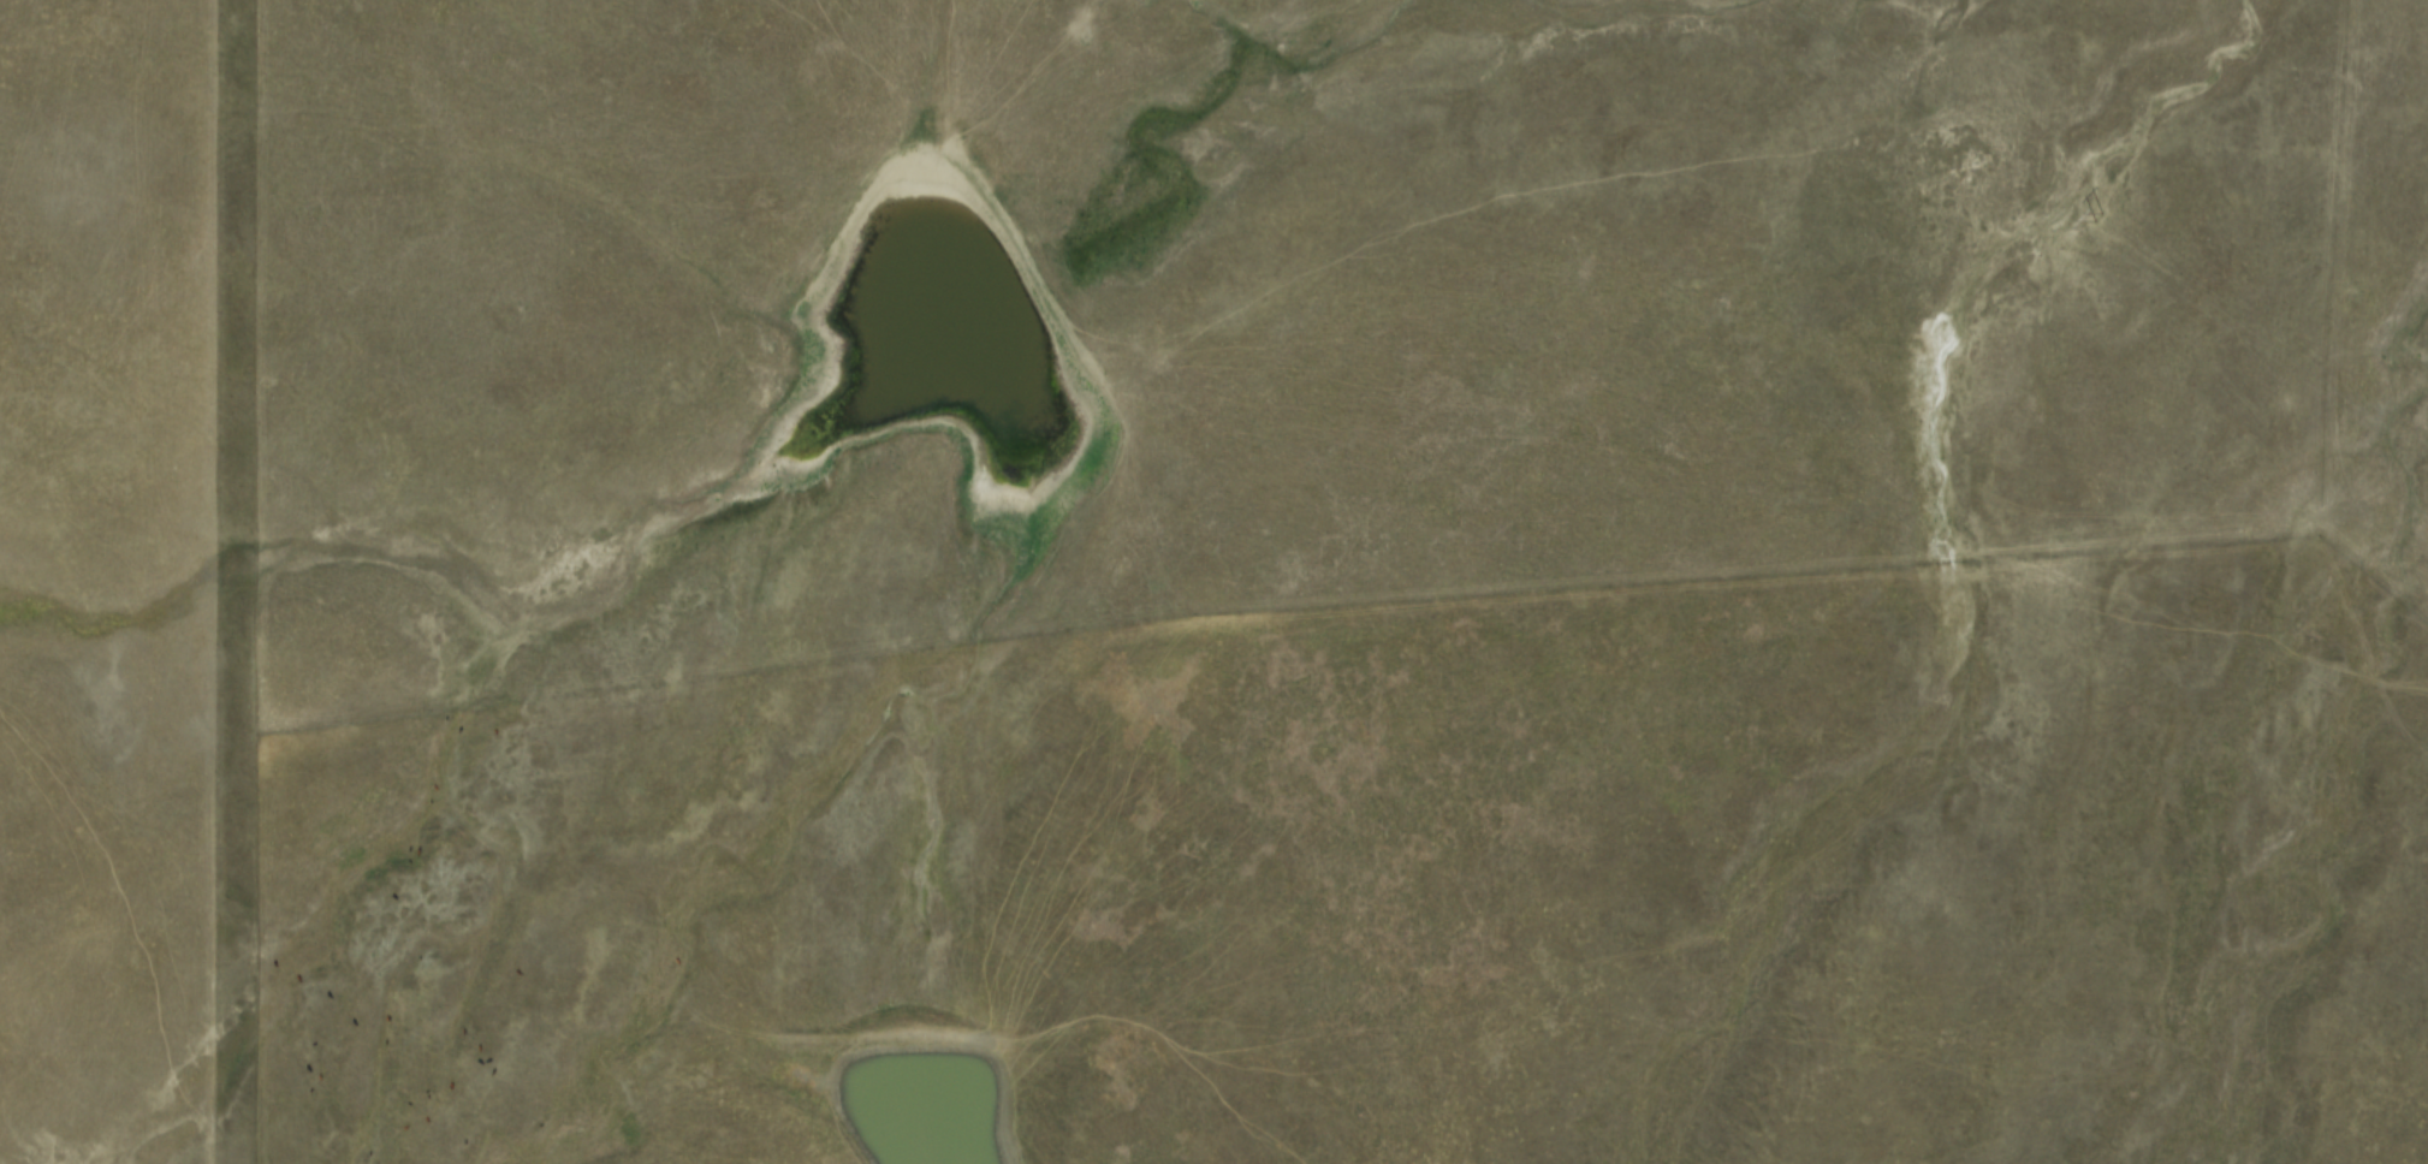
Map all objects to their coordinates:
power tower: (2096, 216)

